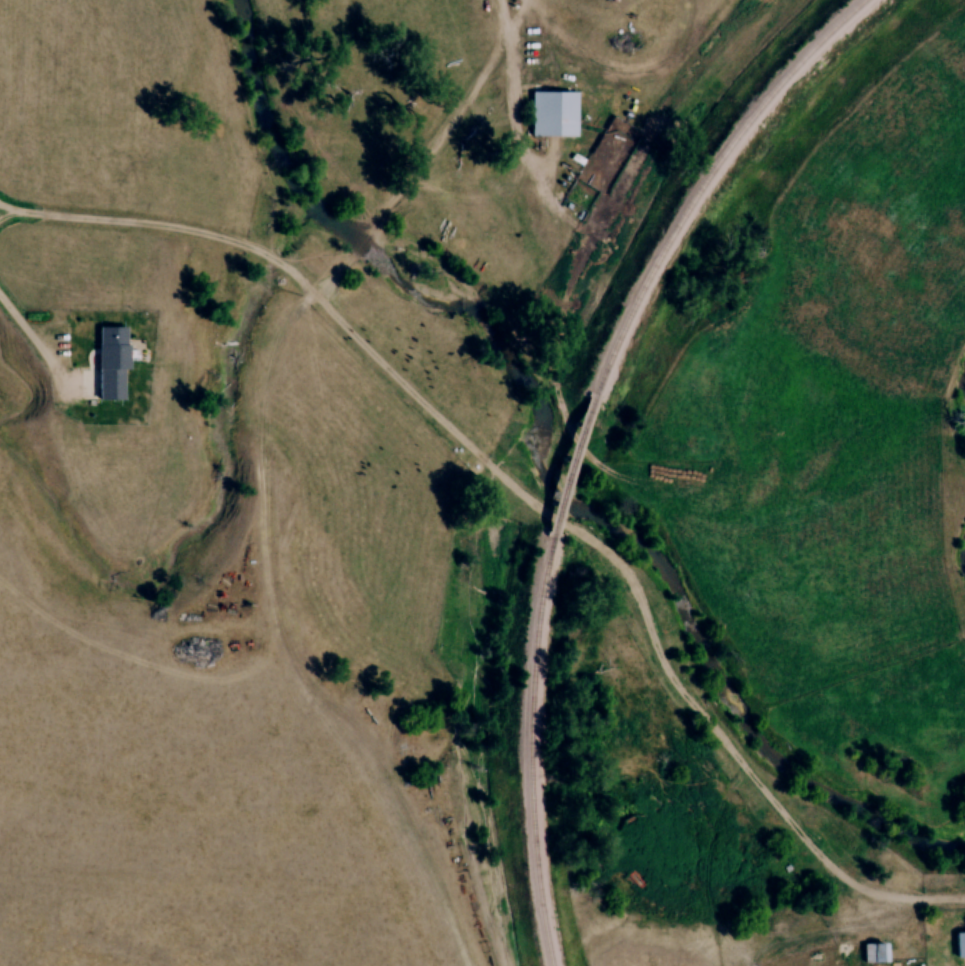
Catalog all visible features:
road: (511, 95)
building: (553, 120)
railway: (704, 184)
road: (311, 296)
building: (111, 369)
railway: (567, 470)
railway: (526, 753)
building: (960, 951)
building: (873, 958)

